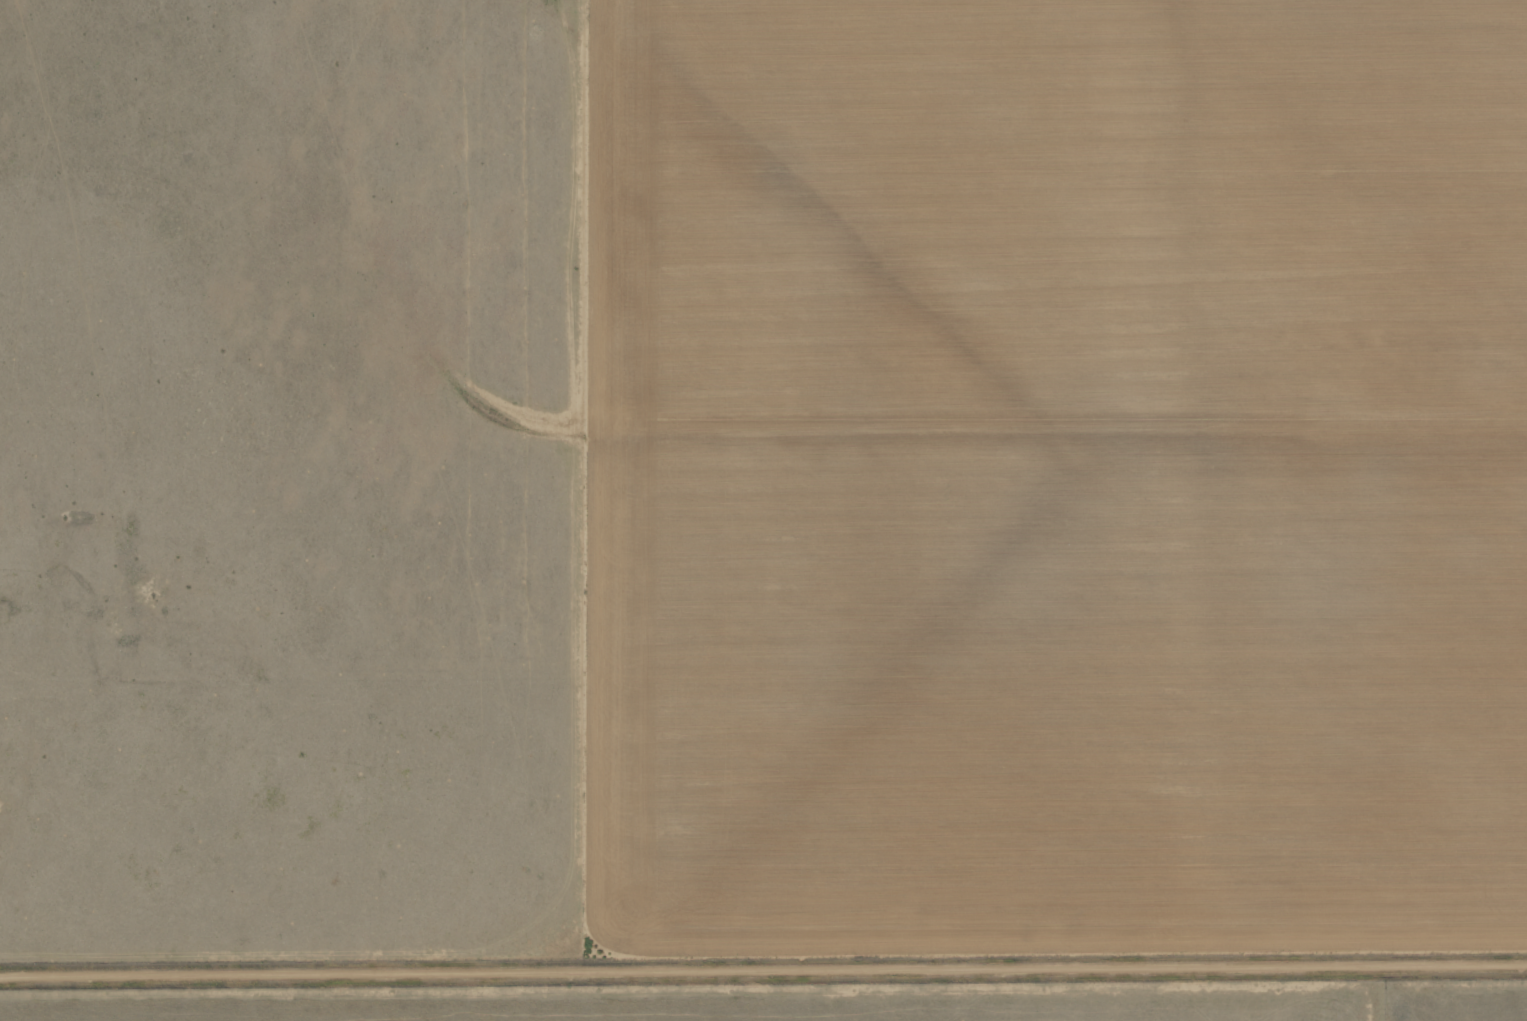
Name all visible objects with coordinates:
road: (763, 968)

